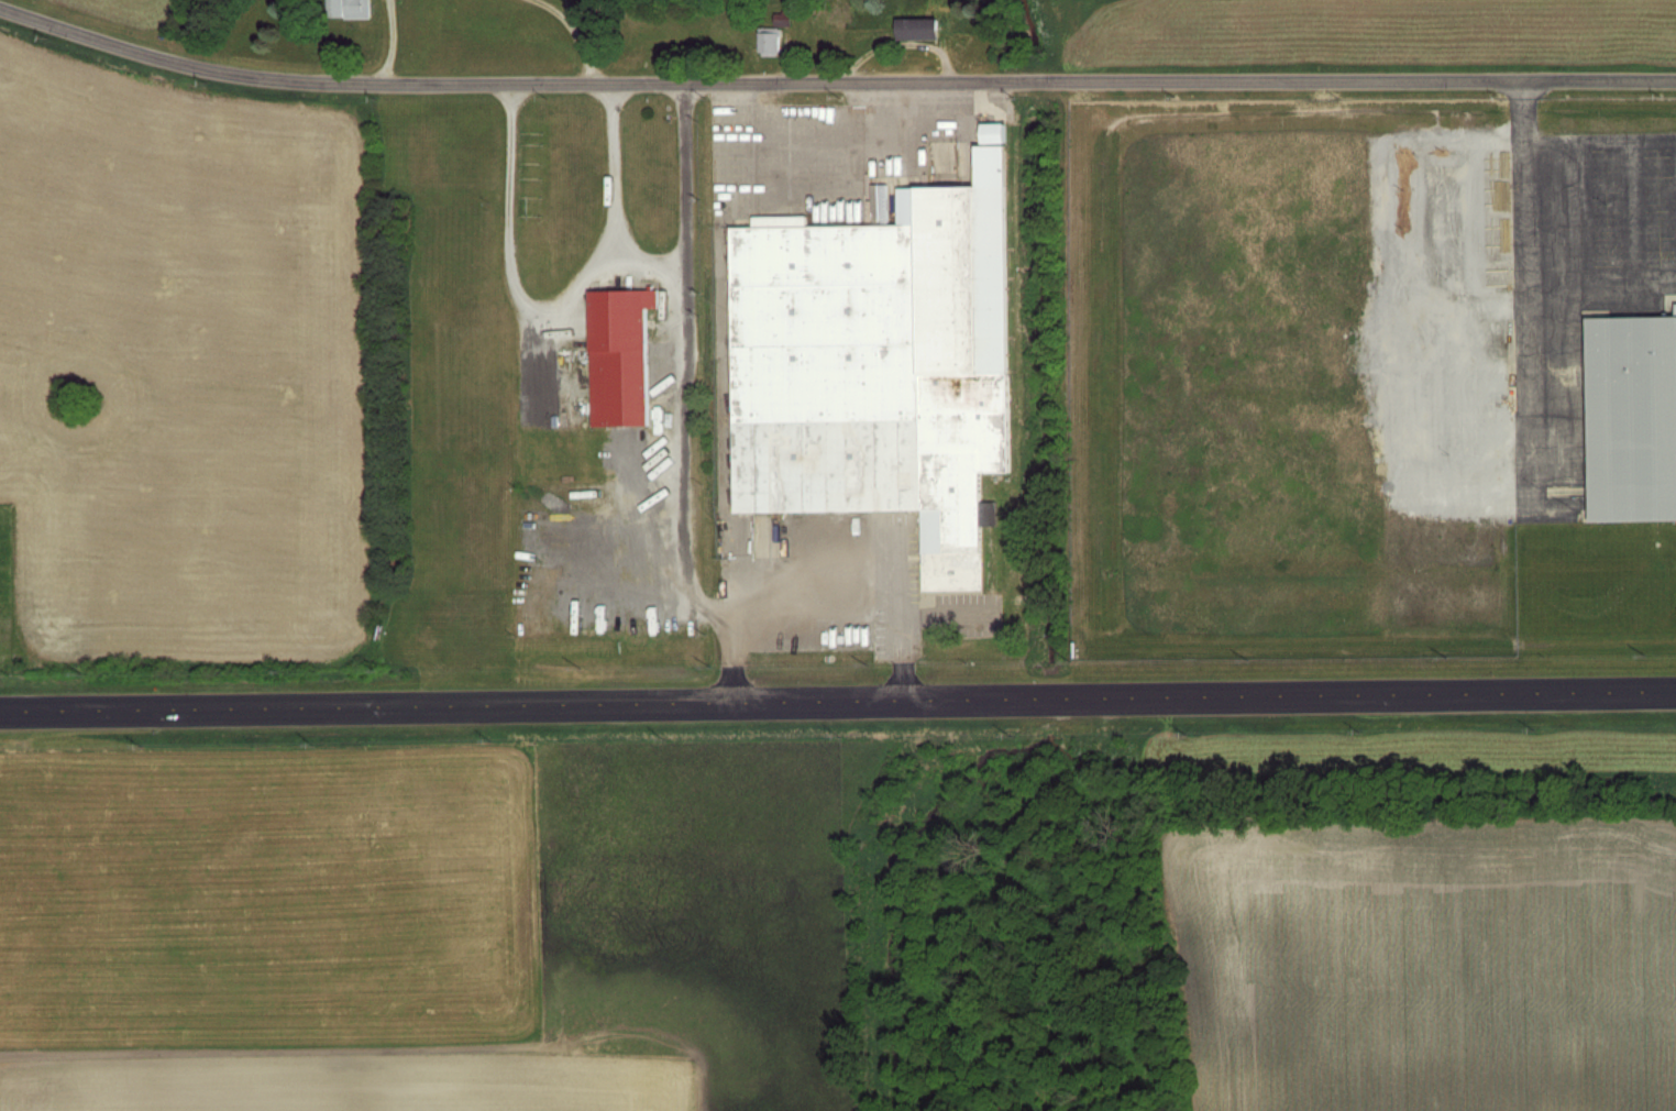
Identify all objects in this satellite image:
building: (346, 7)
crop: (145, 9)
building: (916, 28)
road: (393, 40)
road: (586, 40)
building: (770, 41)
road: (833, 78)
road: (1602, 136)
road: (1634, 207)
road: (1531, 246)
road: (644, 260)
road: (550, 310)
building: (622, 358)
building: (881, 365)
road: (685, 409)
building: (1635, 418)
road: (816, 590)
road: (903, 606)
road: (837, 700)

